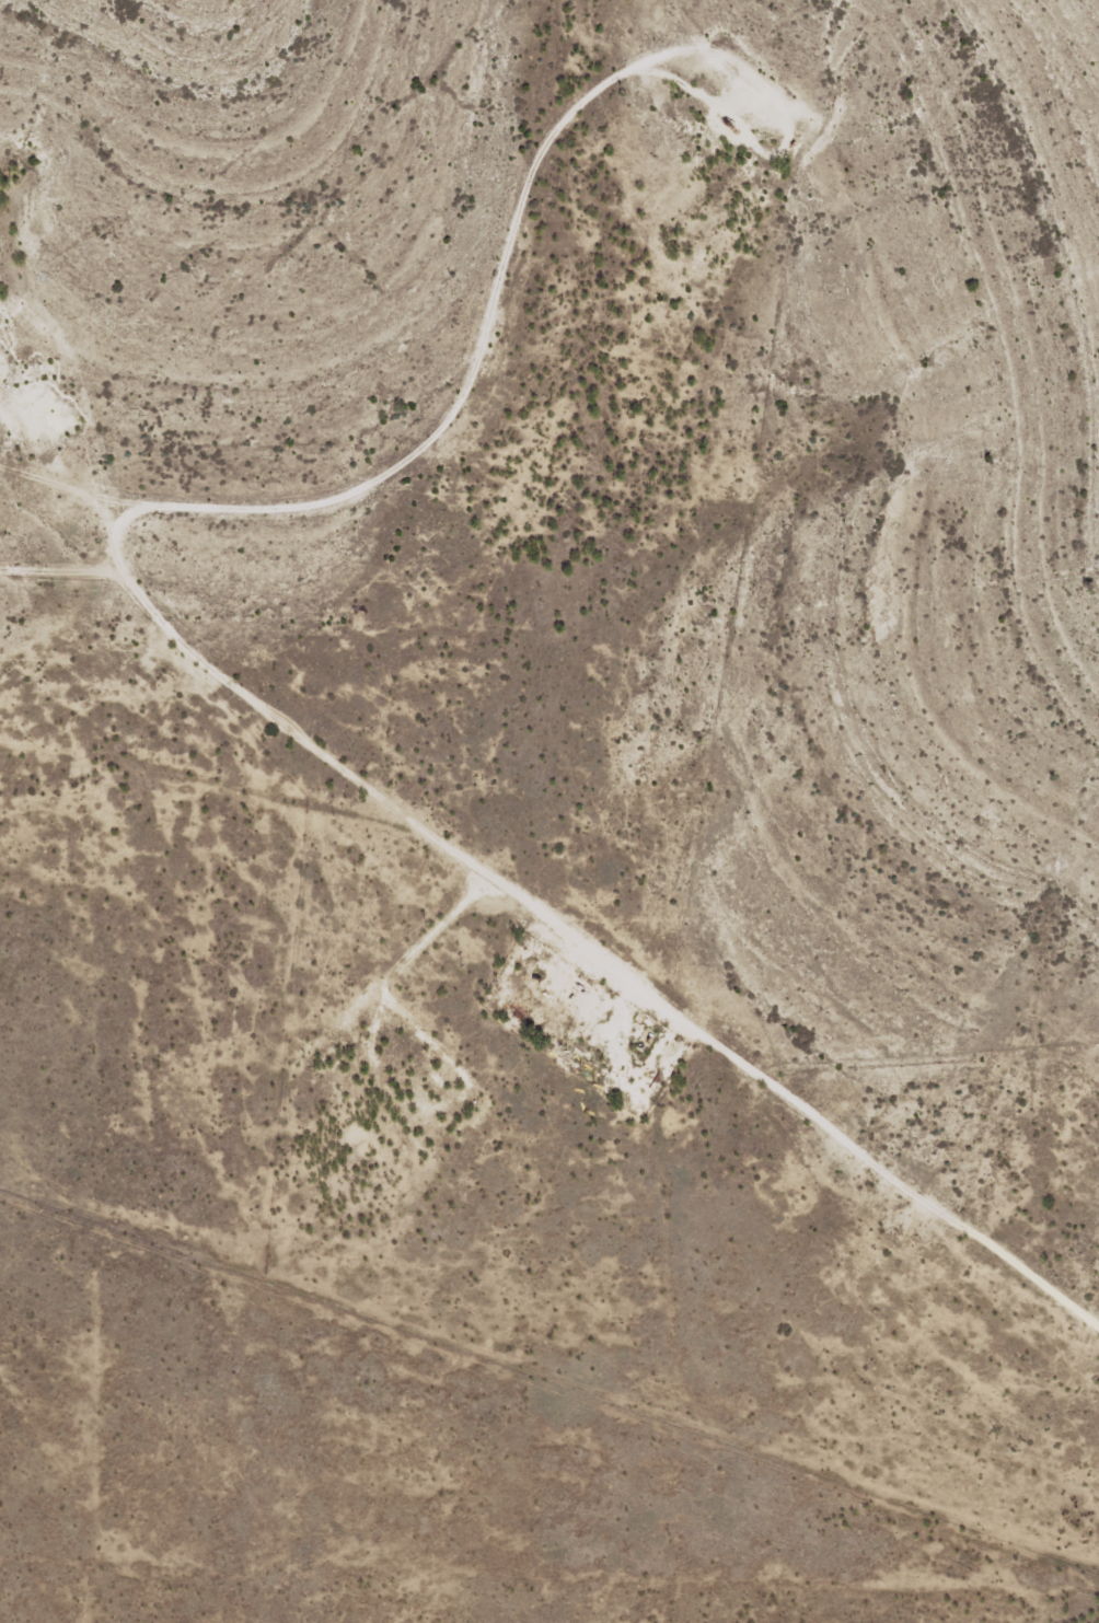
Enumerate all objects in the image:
road: (486, 957)

